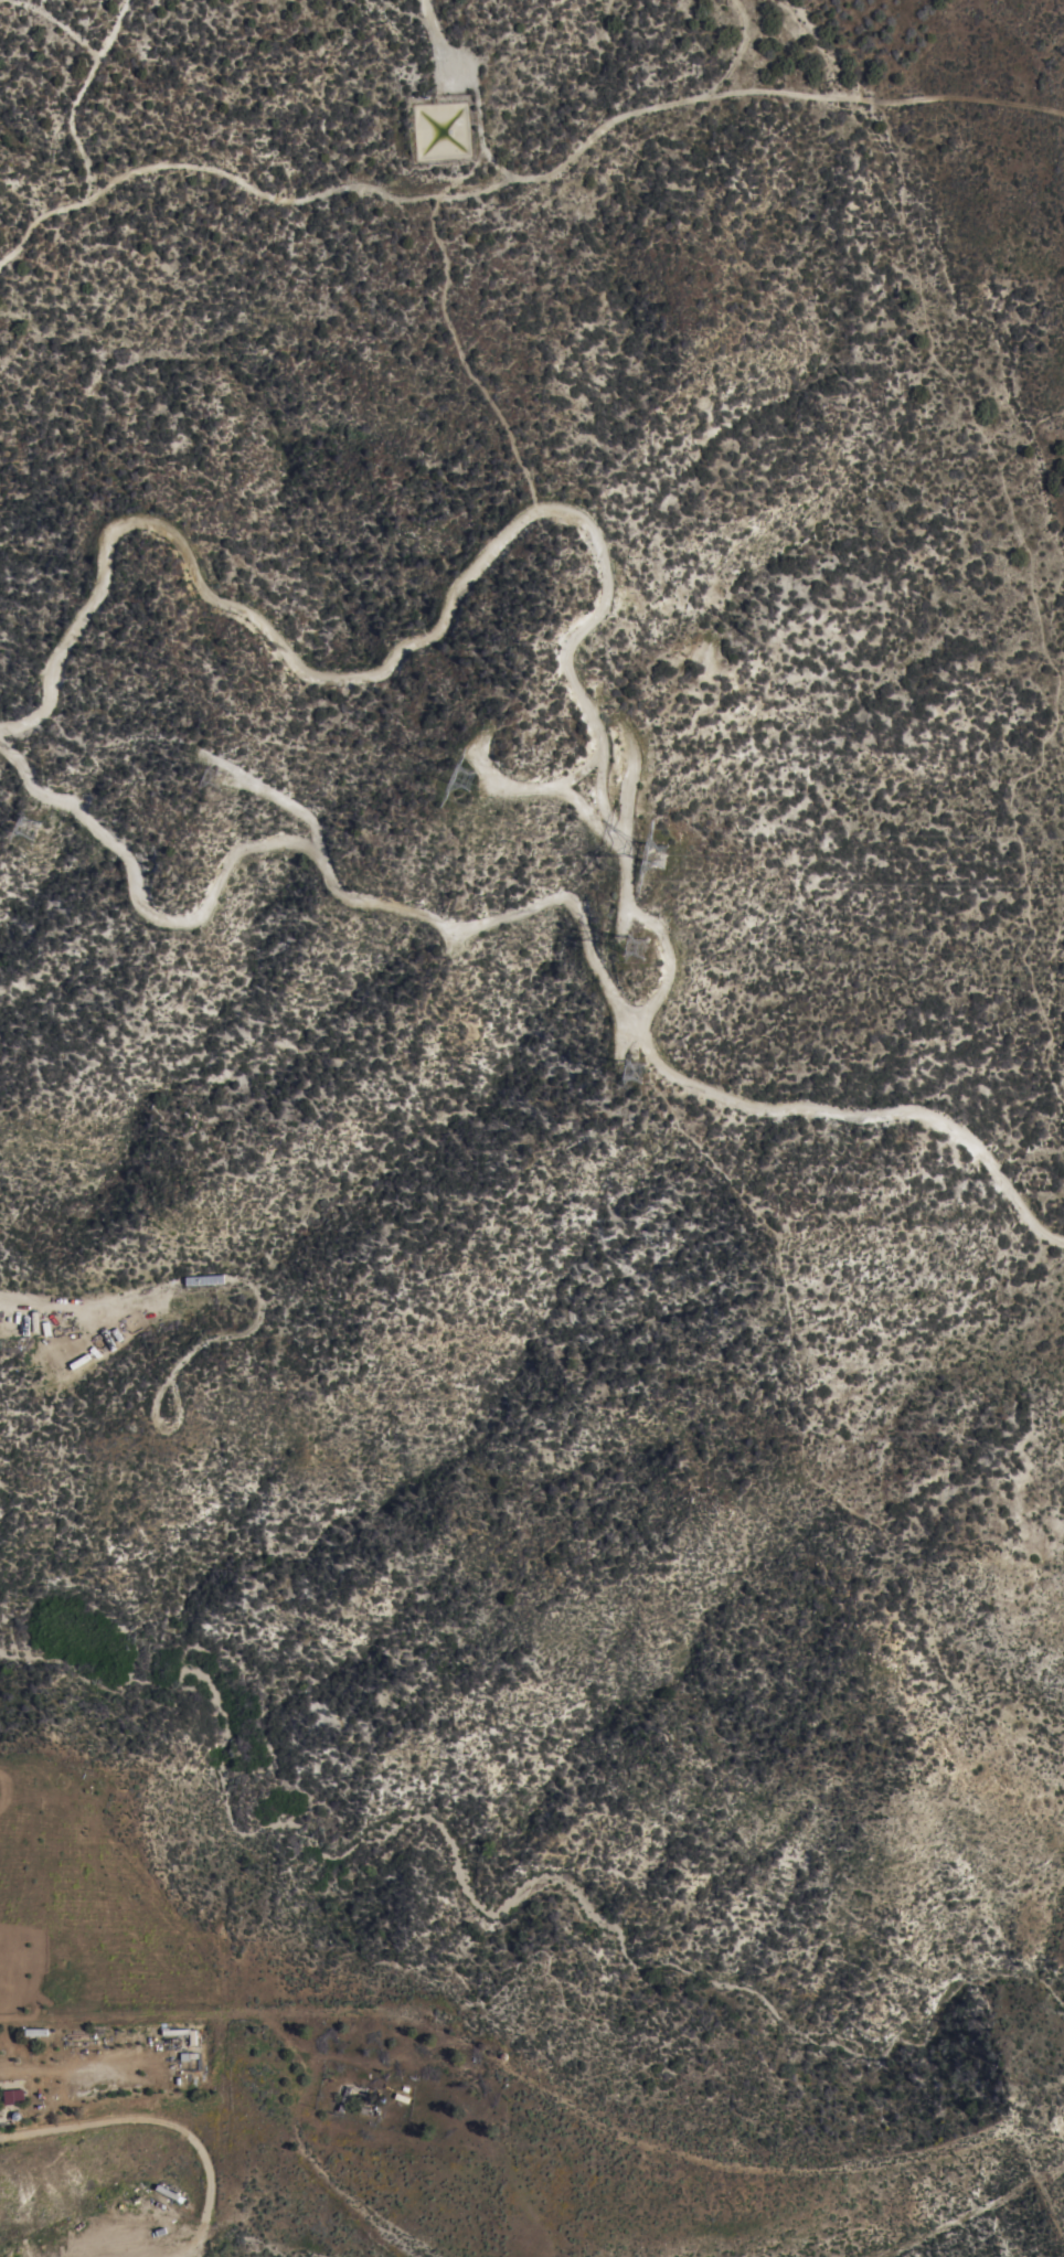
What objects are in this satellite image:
power tower: (205, 783)
power tower: (460, 784)
power tower: (30, 828)
power tower: (652, 858)
road: (541, 905)
power tower: (635, 946)
power tower: (636, 1071)
building: (205, 1279)
road: (352, 2062)
road: (507, 2068)
building: (11, 2094)
road: (161, 2121)

